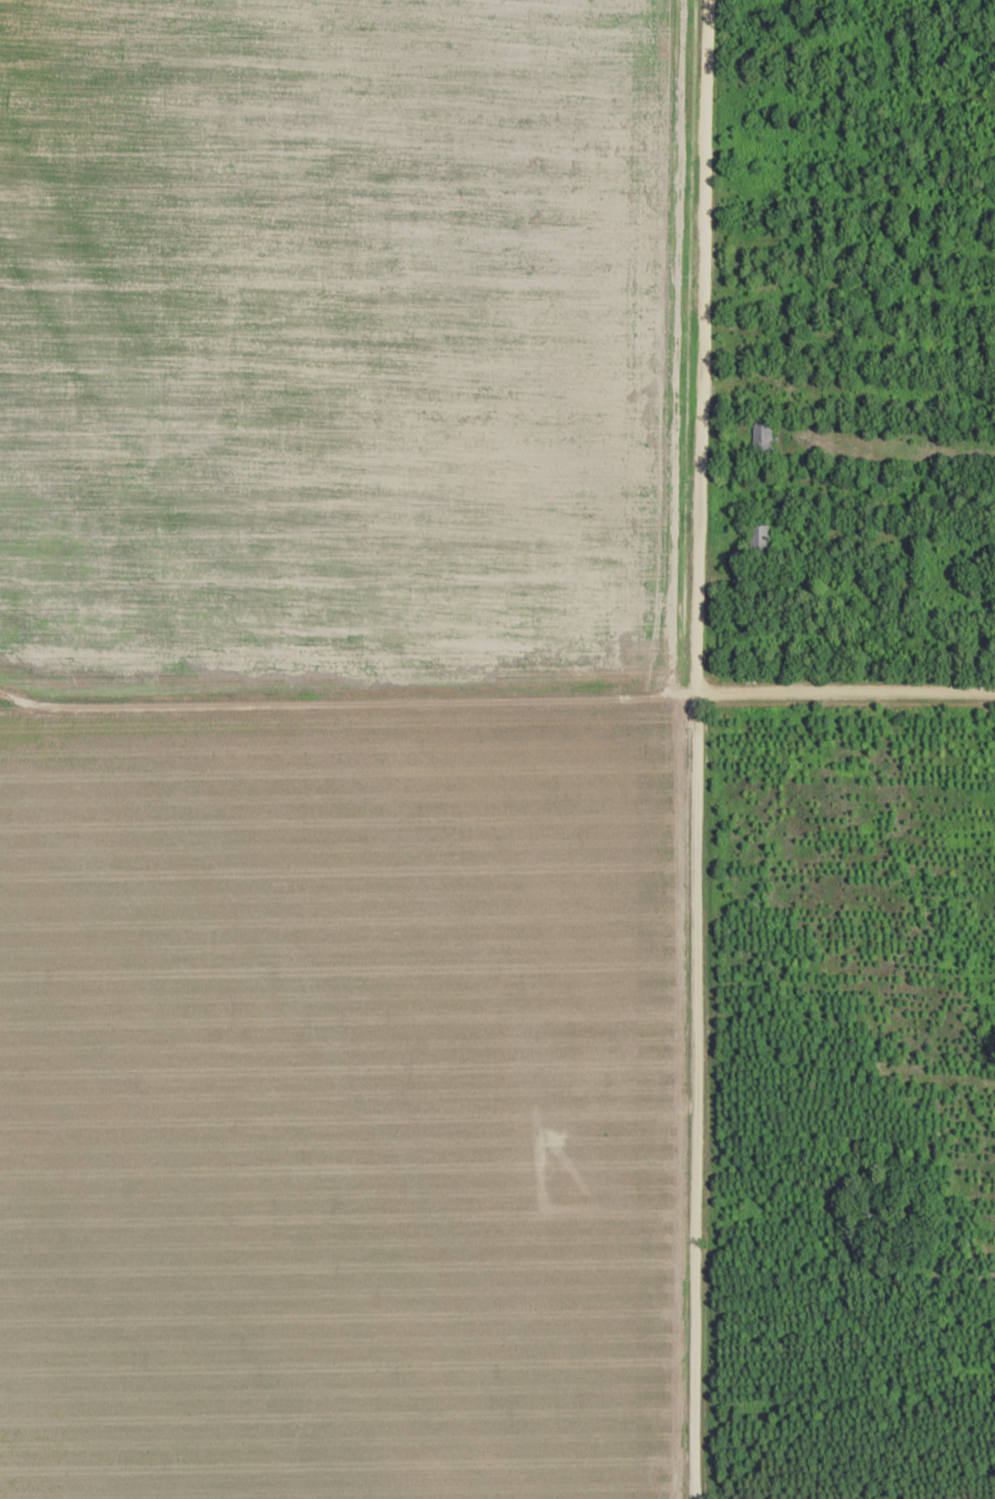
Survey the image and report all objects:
building: (759, 439)
building: (759, 539)
road: (497, 702)
road: (695, 749)
road: (634, 1108)

